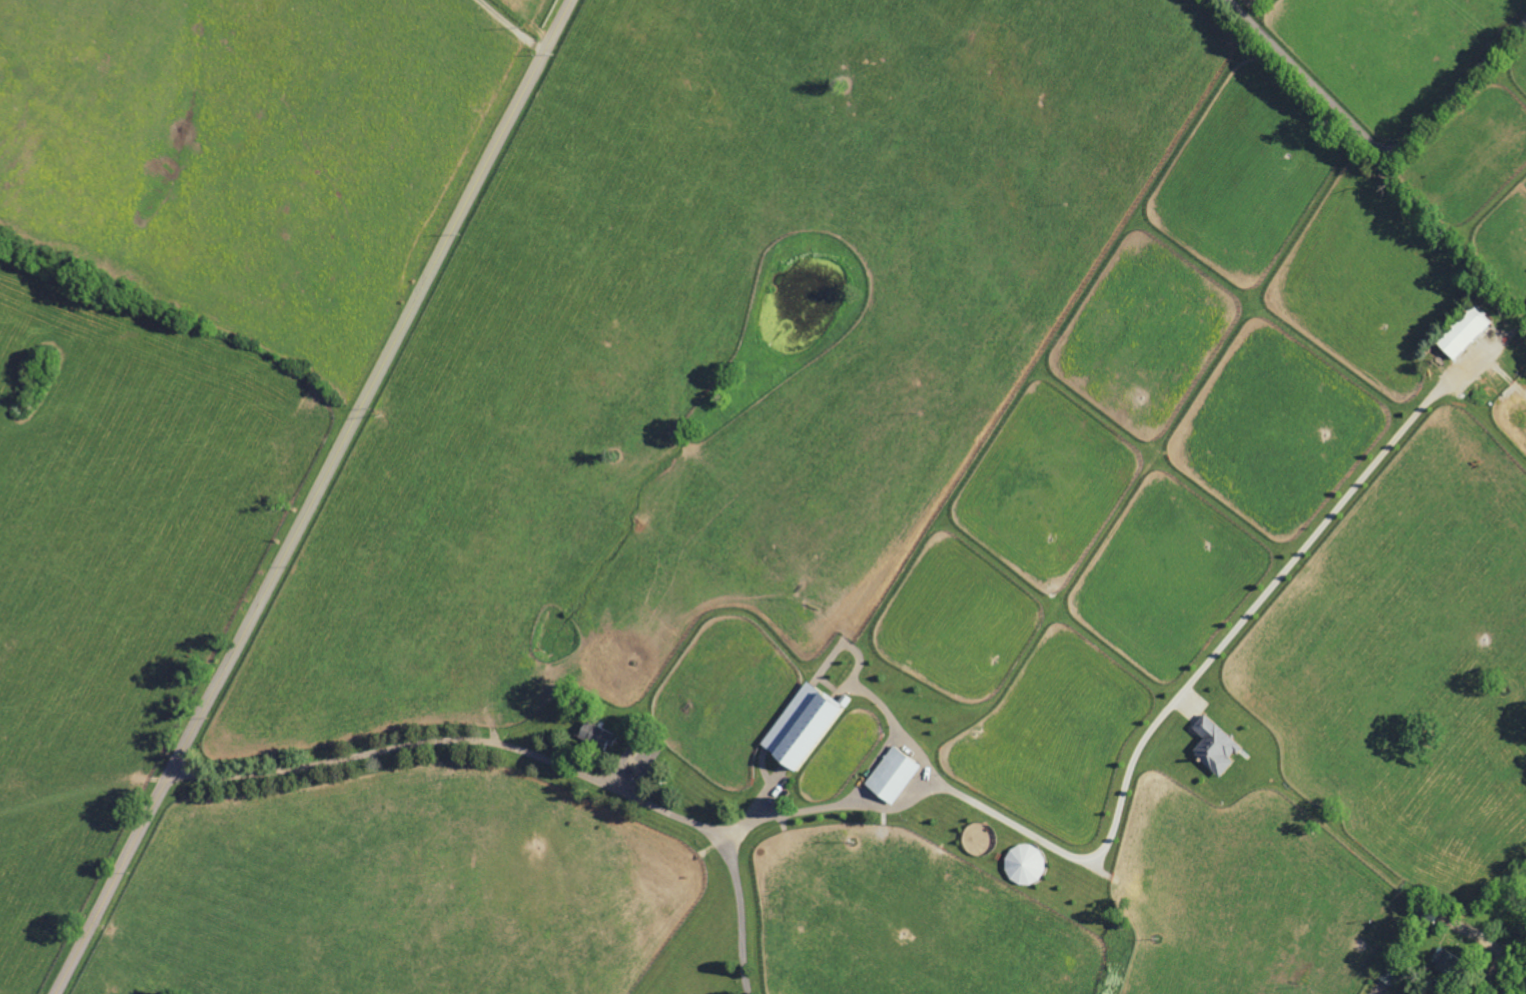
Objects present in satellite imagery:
road: (513, 27)
road: (1375, 144)
building: (1461, 332)
road: (320, 498)
road: (1157, 723)
building: (798, 727)
building: (594, 735)
building: (1211, 746)
road: (537, 756)
building: (889, 776)
building: (1443, 959)
road: (1504, 965)
building: (1415, 993)

